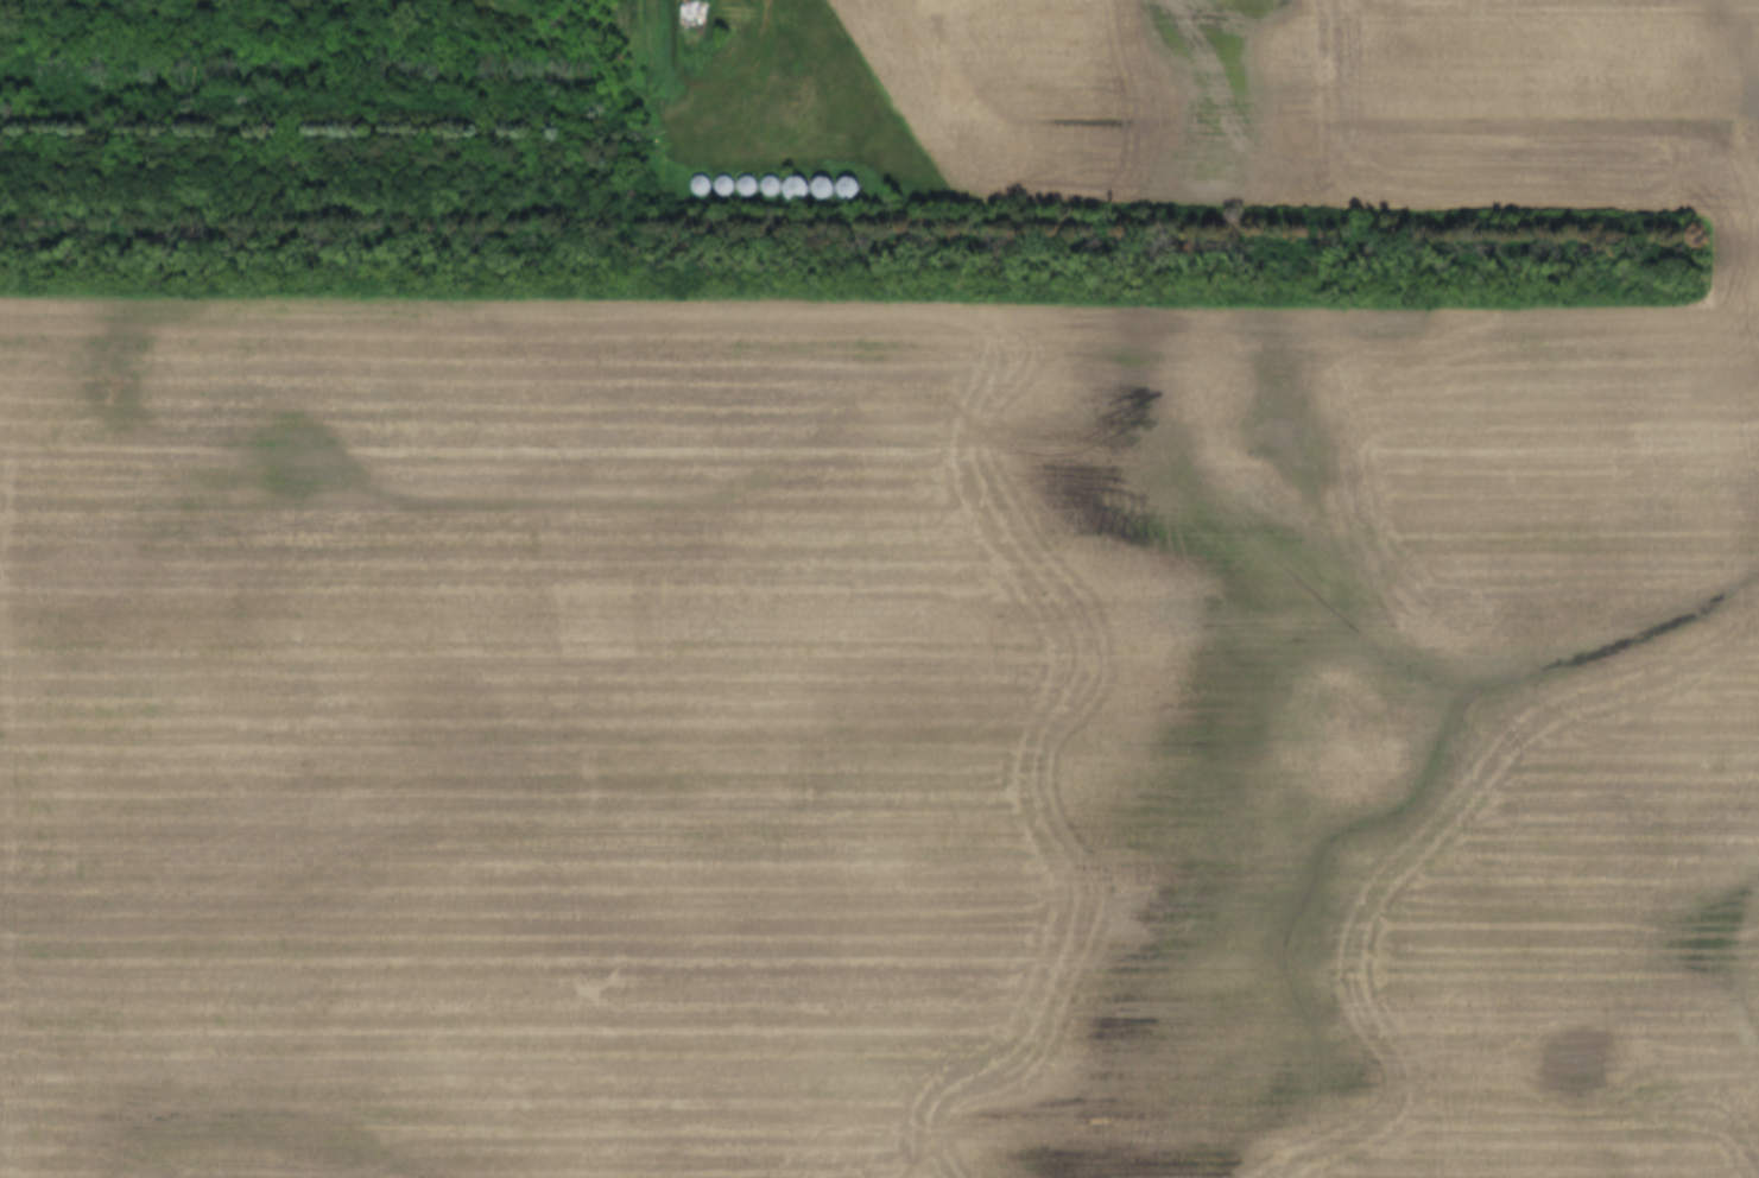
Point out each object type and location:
road: (711, 81)

